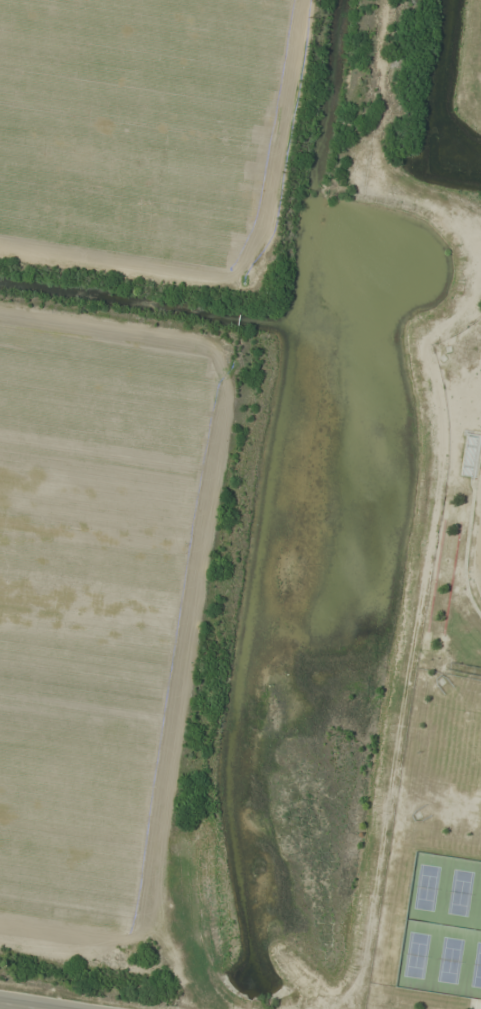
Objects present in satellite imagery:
road: (18, 1006)

